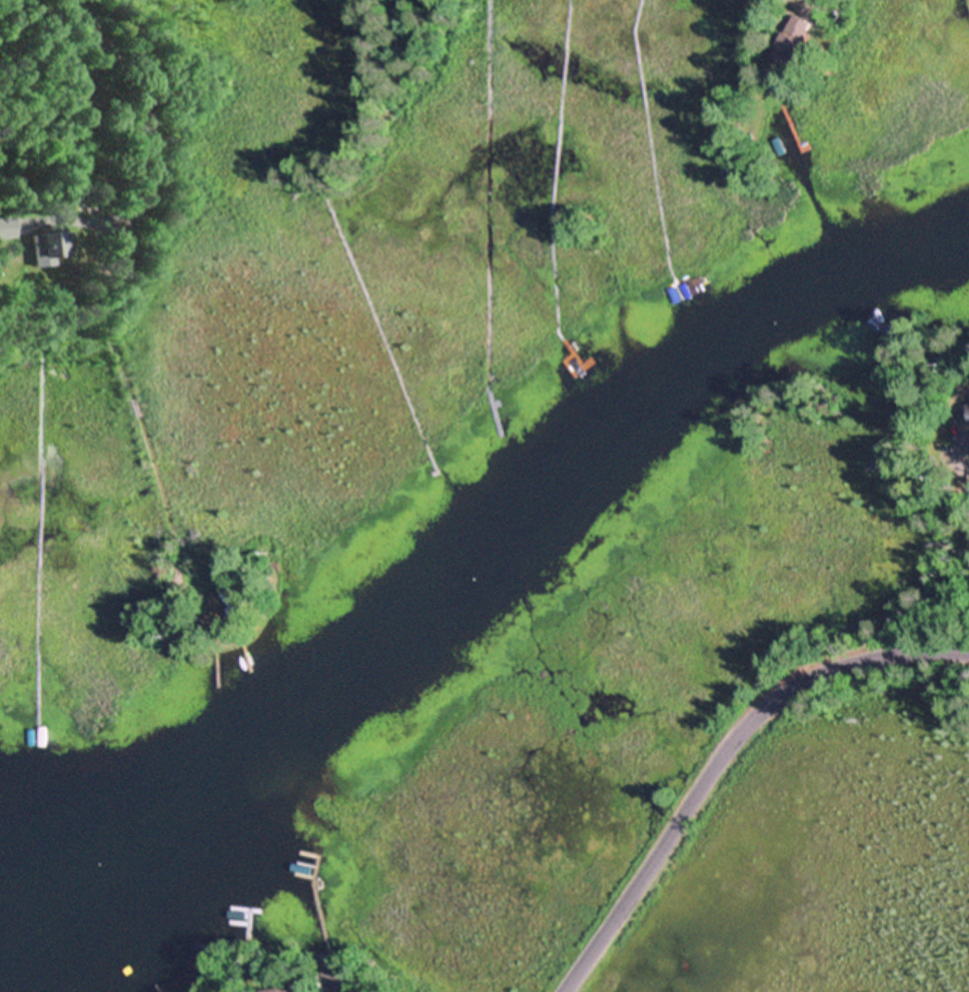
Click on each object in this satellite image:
building: (798, 35)
building: (822, 41)
building: (4, 227)
building: (45, 247)
building: (46, 262)
road: (116, 268)
road: (859, 527)
river: (479, 578)
building: (241, 602)
road: (726, 760)
building: (327, 973)
building: (291, 989)

